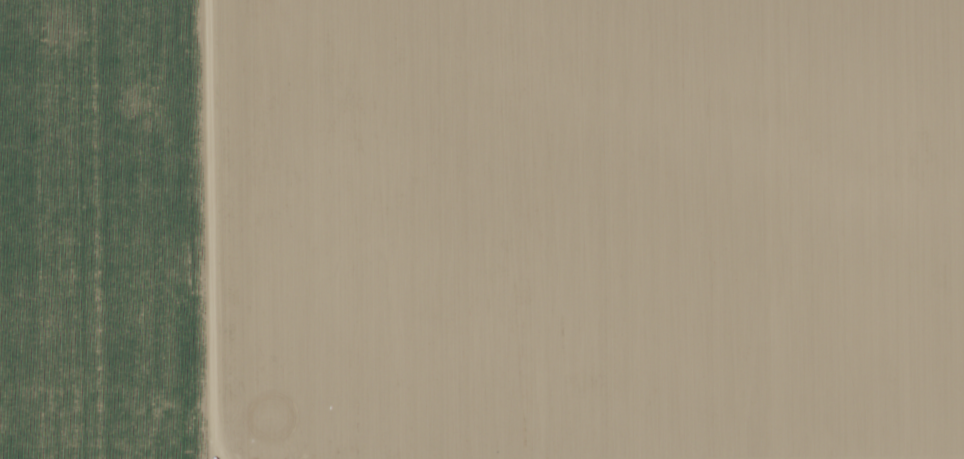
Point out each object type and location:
crop: (588, 229)
crop: (106, 230)

